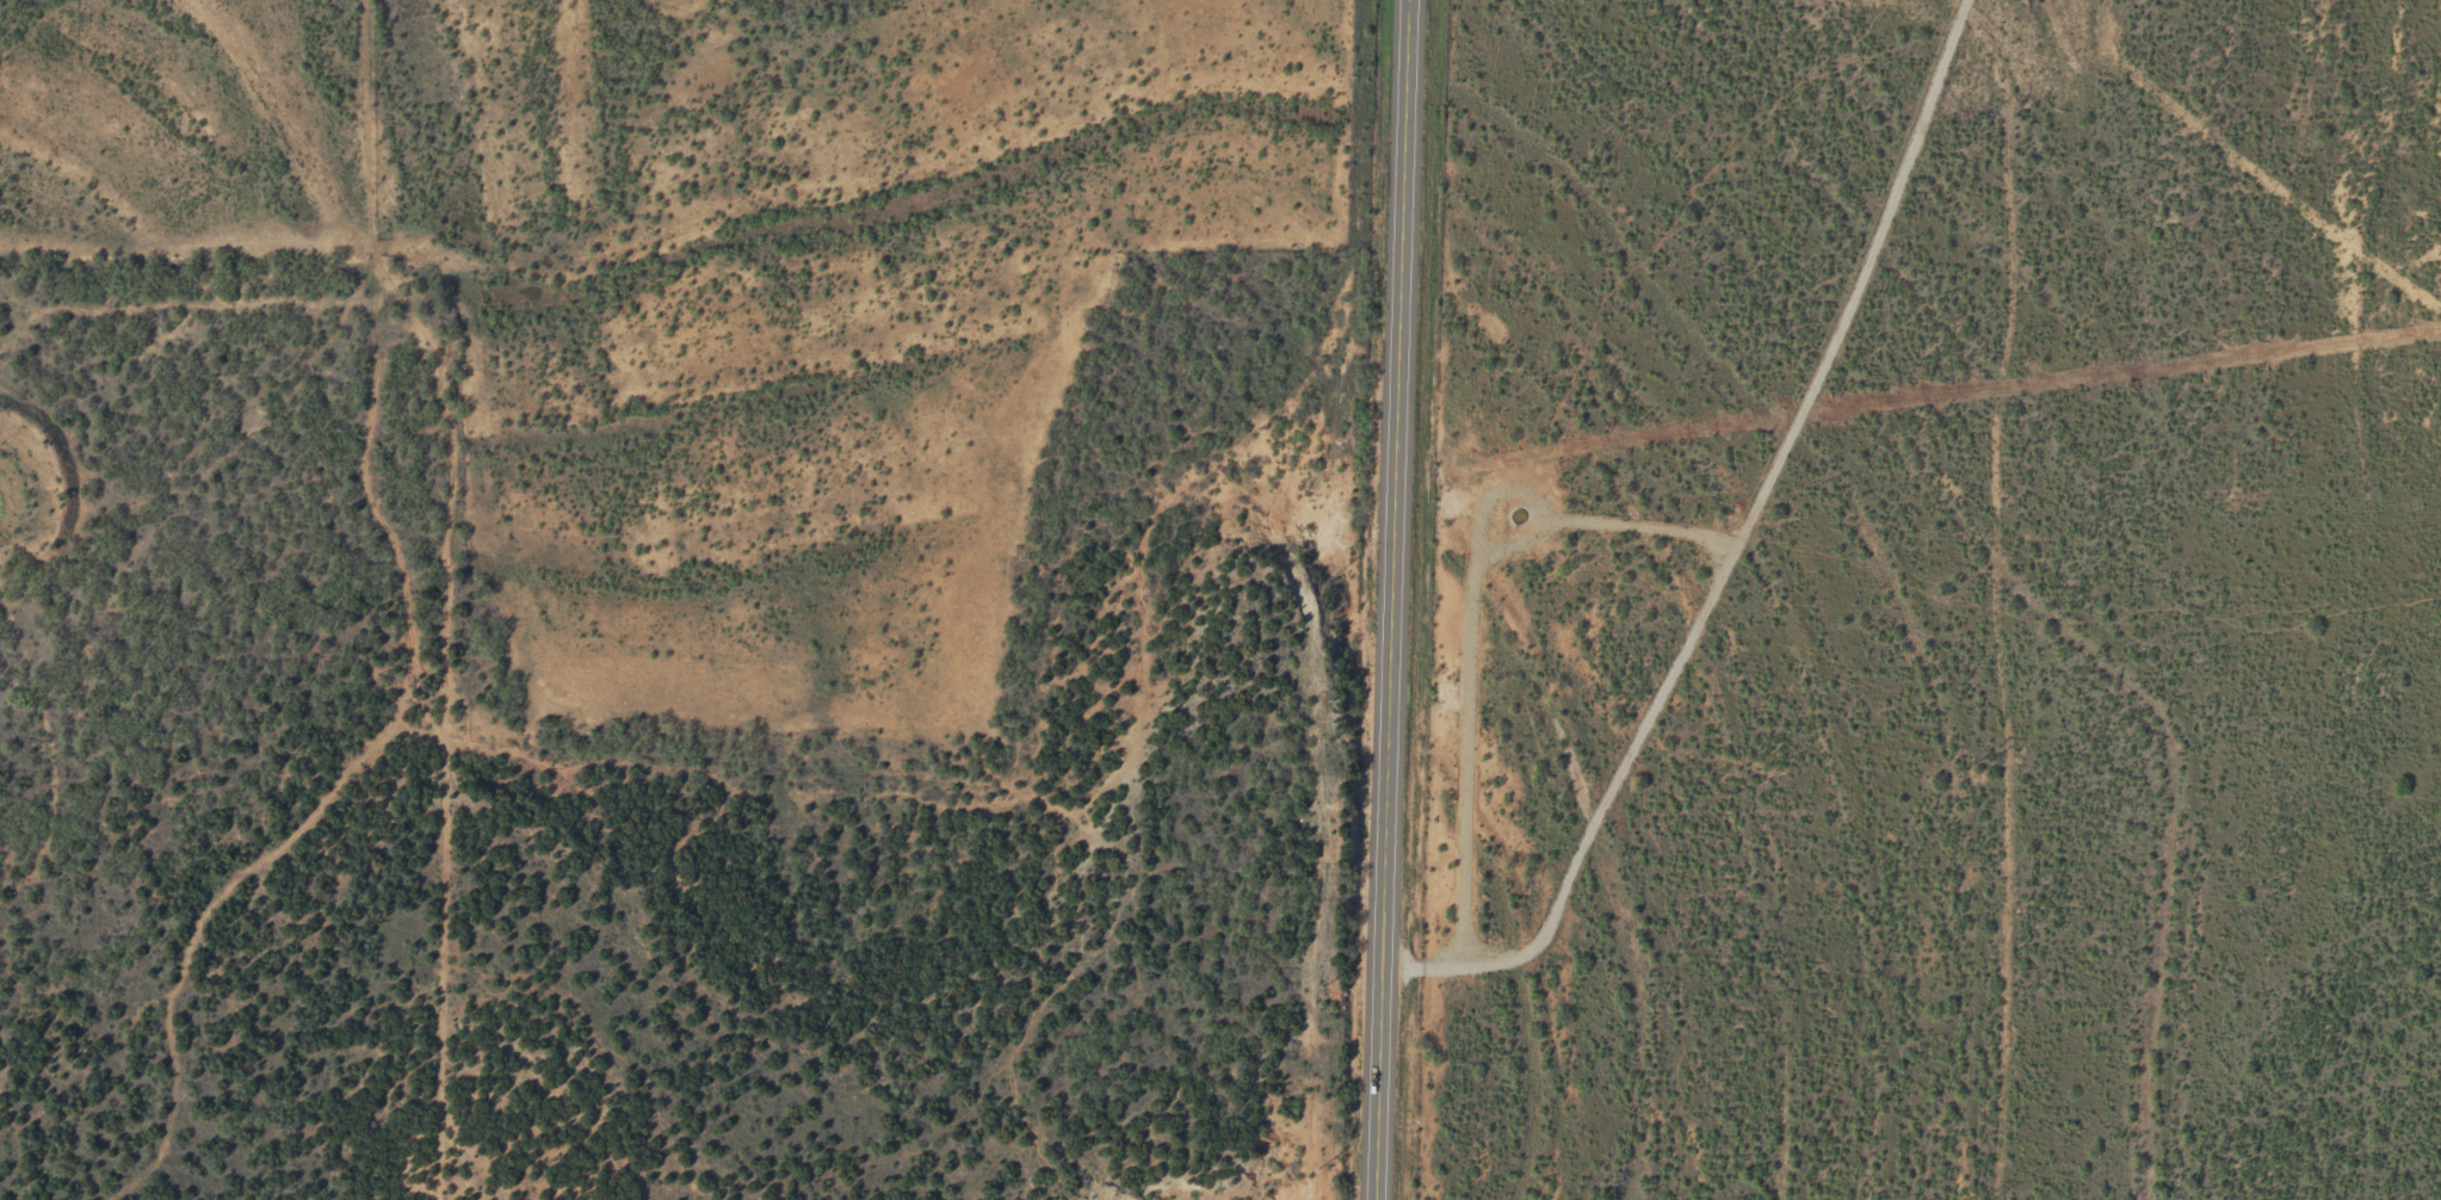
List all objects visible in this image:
power tower: (1989, 318)
road: (1397, 600)
power tower: (1984, 762)

